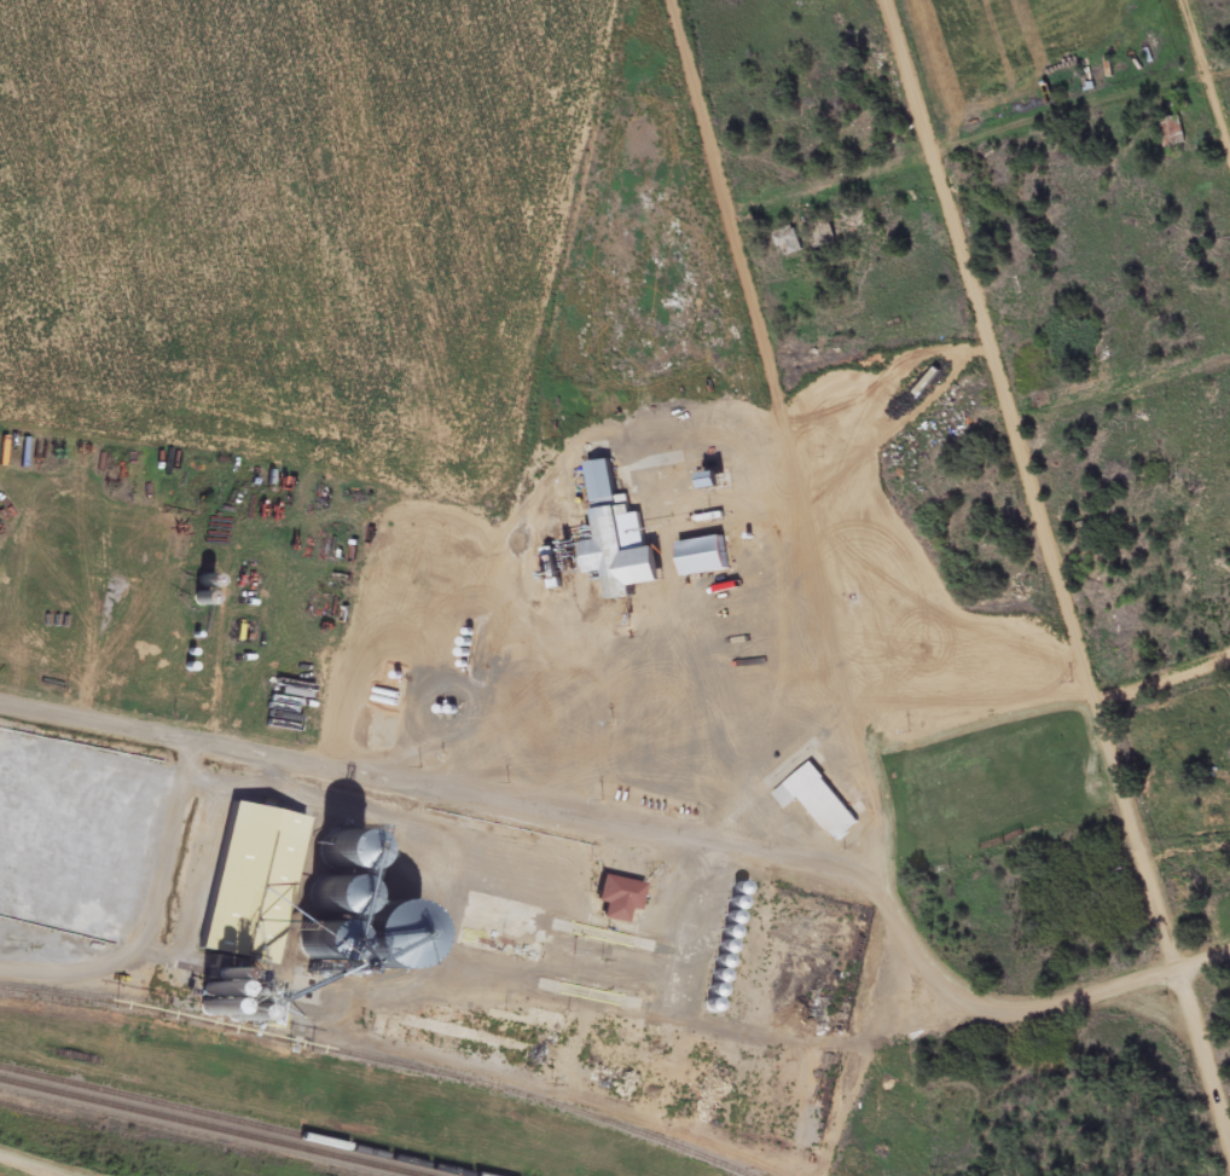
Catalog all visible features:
road: (1206, 76)
building: (1172, 133)
road: (979, 143)
building: (788, 242)
road: (1023, 423)
road: (800, 438)
building: (709, 483)
road: (1037, 487)
building: (615, 543)
building: (701, 558)
building: (203, 585)
road: (1068, 714)
road: (447, 793)
building: (822, 804)
building: (64, 863)
building: (1190, 881)
building: (249, 885)
building: (617, 899)
road: (141, 915)
building: (341, 917)
road: (1029, 1008)
road: (1206, 1054)
railway: (373, 1062)
building: (623, 1065)
railway: (228, 1123)
railway: (207, 1128)
road: (29, 1168)

